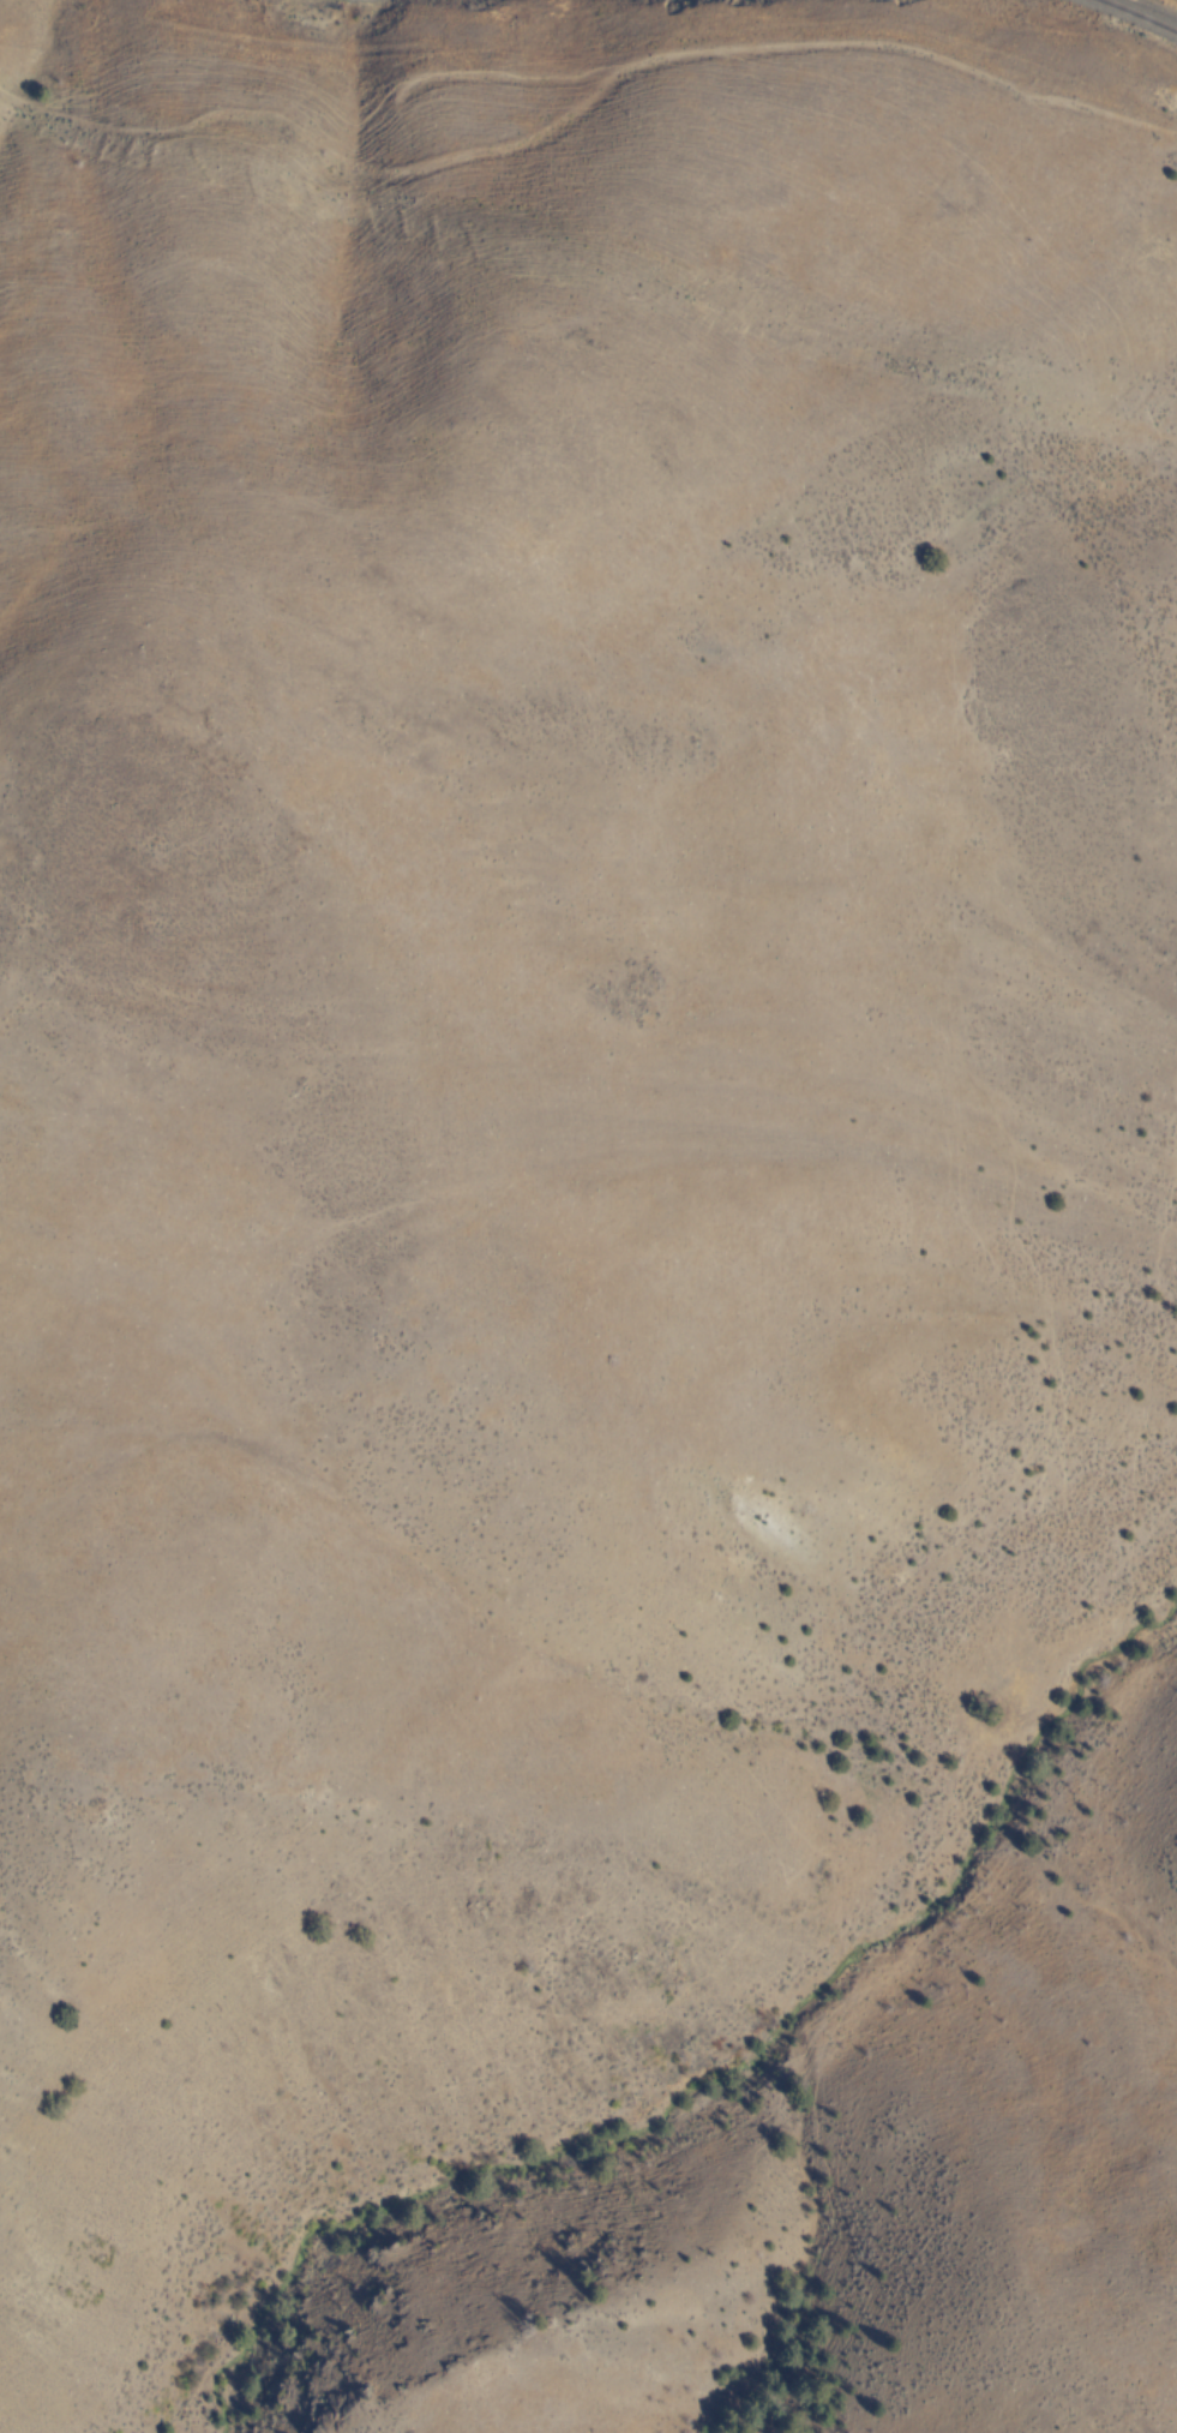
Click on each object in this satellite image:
railway: (1140, 17)

